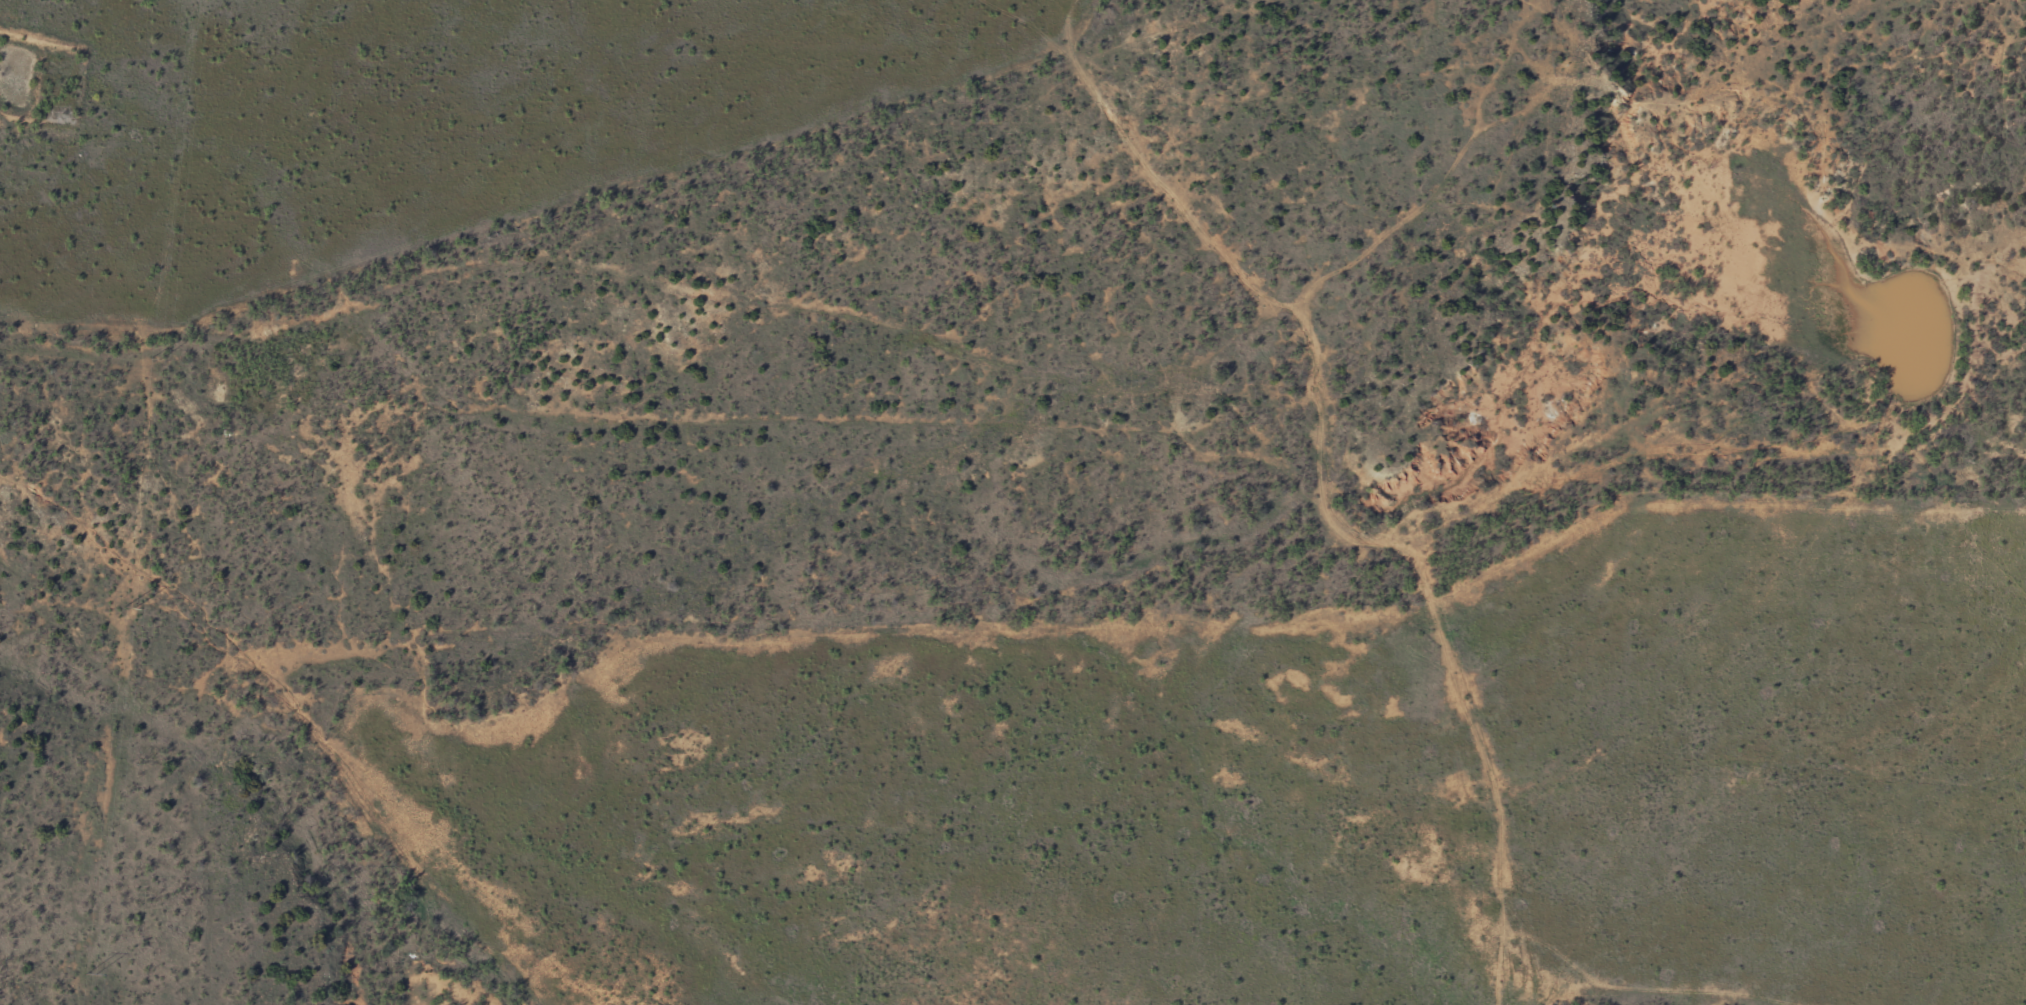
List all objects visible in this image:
road: (959, 352)
power tower: (157, 359)
power tower: (132, 607)
power tower: (91, 973)

